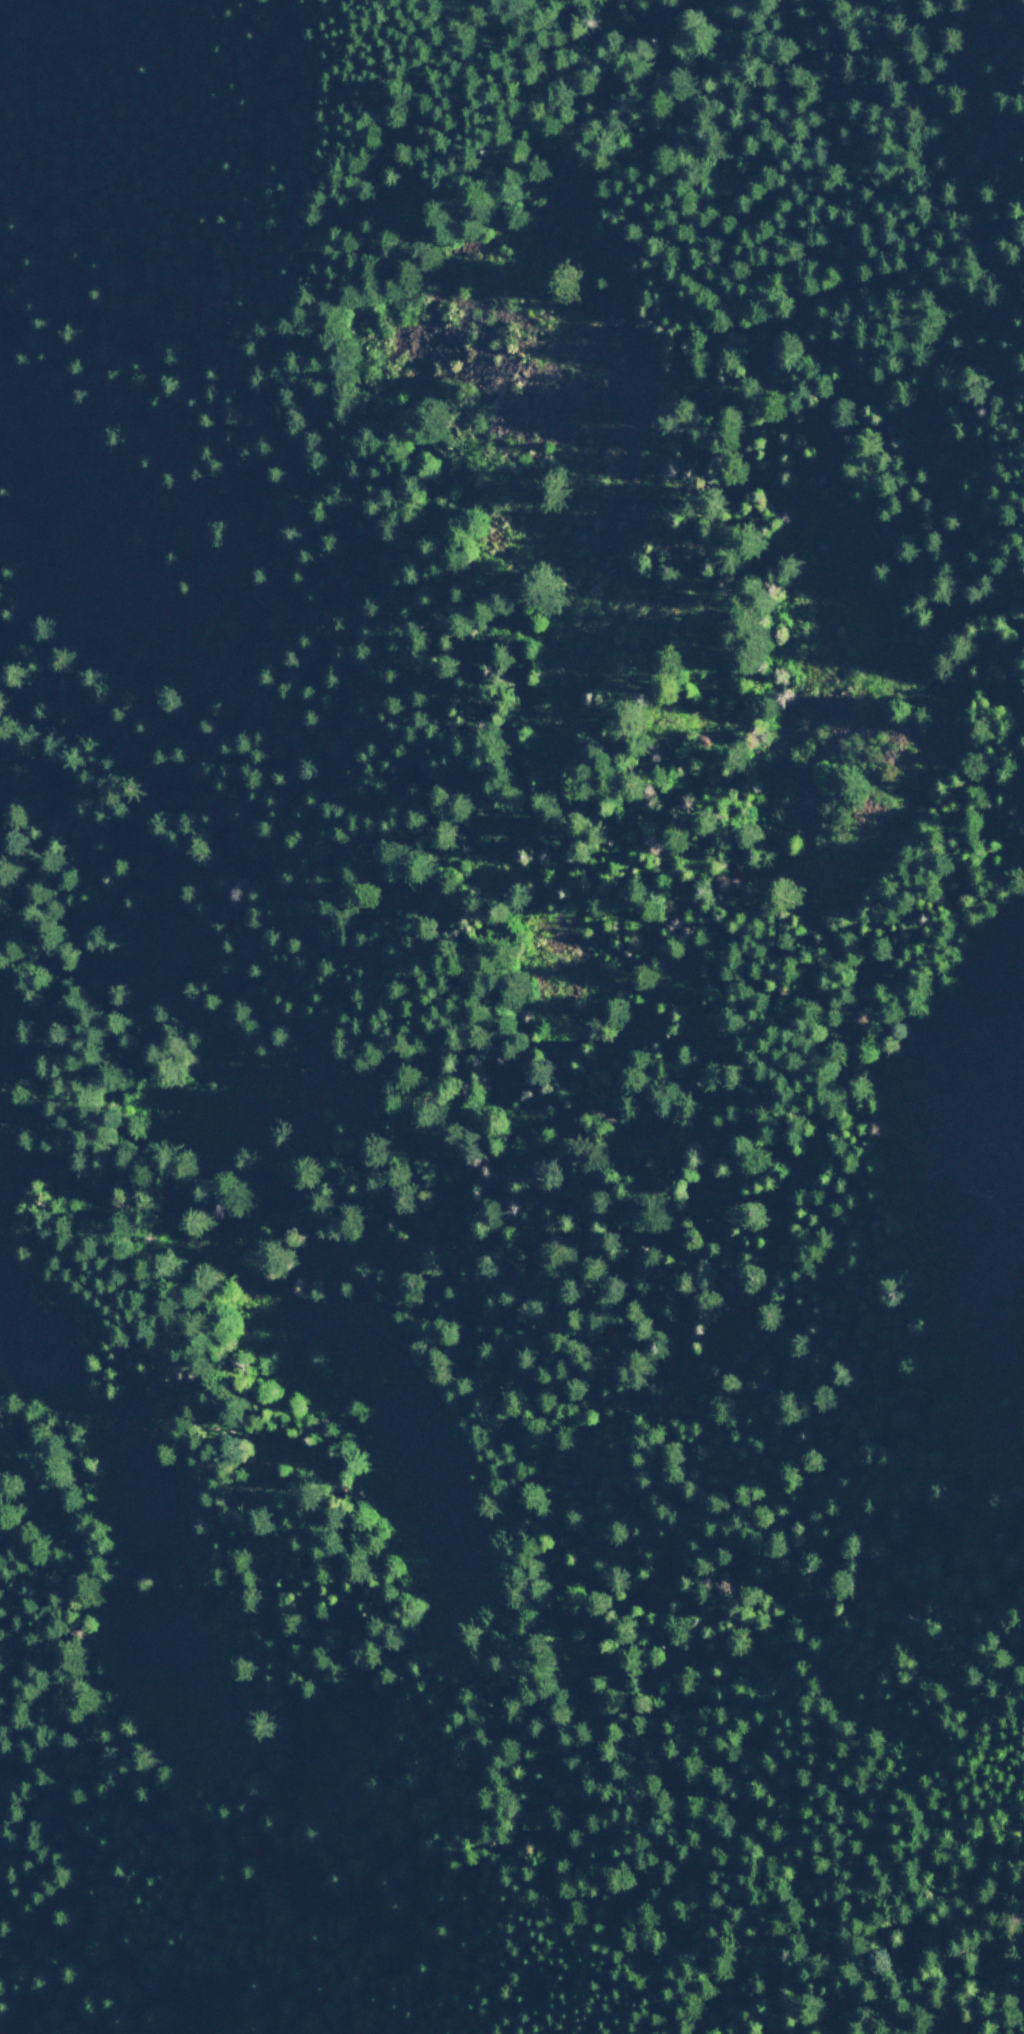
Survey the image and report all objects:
road: (42, 1835)
road: (880, 1942)

